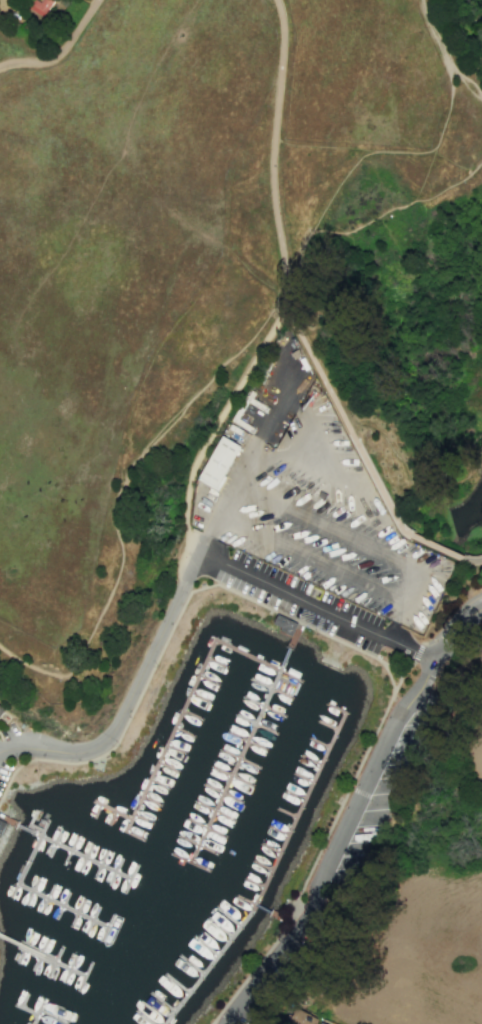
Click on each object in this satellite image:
building: (40, 6)
road: (466, 32)
road: (461, 50)
road: (445, 53)
road: (63, 55)
road: (273, 155)
road: (363, 225)
road: (356, 413)
road: (308, 417)
road: (344, 422)
road: (214, 428)
building: (218, 463)
road: (121, 483)
road: (228, 499)
river: (468, 515)
dam: (448, 520)
road: (441, 547)
road: (385, 553)
road: (479, 560)
road: (201, 564)
river: (356, 565)
parking lot: (295, 597)
road: (314, 605)
road: (306, 613)
road: (450, 617)
building: (283, 624)
road: (451, 628)
road: (341, 641)
road: (162, 646)
road: (414, 653)
road: (392, 666)
road: (400, 676)
road: (130, 699)
building: (0, 710)
pier: (180, 715)
parking lot: (8, 732)
pier: (246, 745)
road: (15, 769)
parking lot: (4, 772)
road: (351, 785)
road: (363, 785)
parking lot: (381, 790)
pier: (302, 807)
building: (1, 825)
pier: (61, 843)
pier: (37, 891)
road: (302, 913)
road: (293, 915)
pier: (223, 949)
pier: (42, 955)
road: (264, 970)
road: (248, 973)
parking lot: (273, 977)
pier: (42, 1015)
building: (302, 1018)

